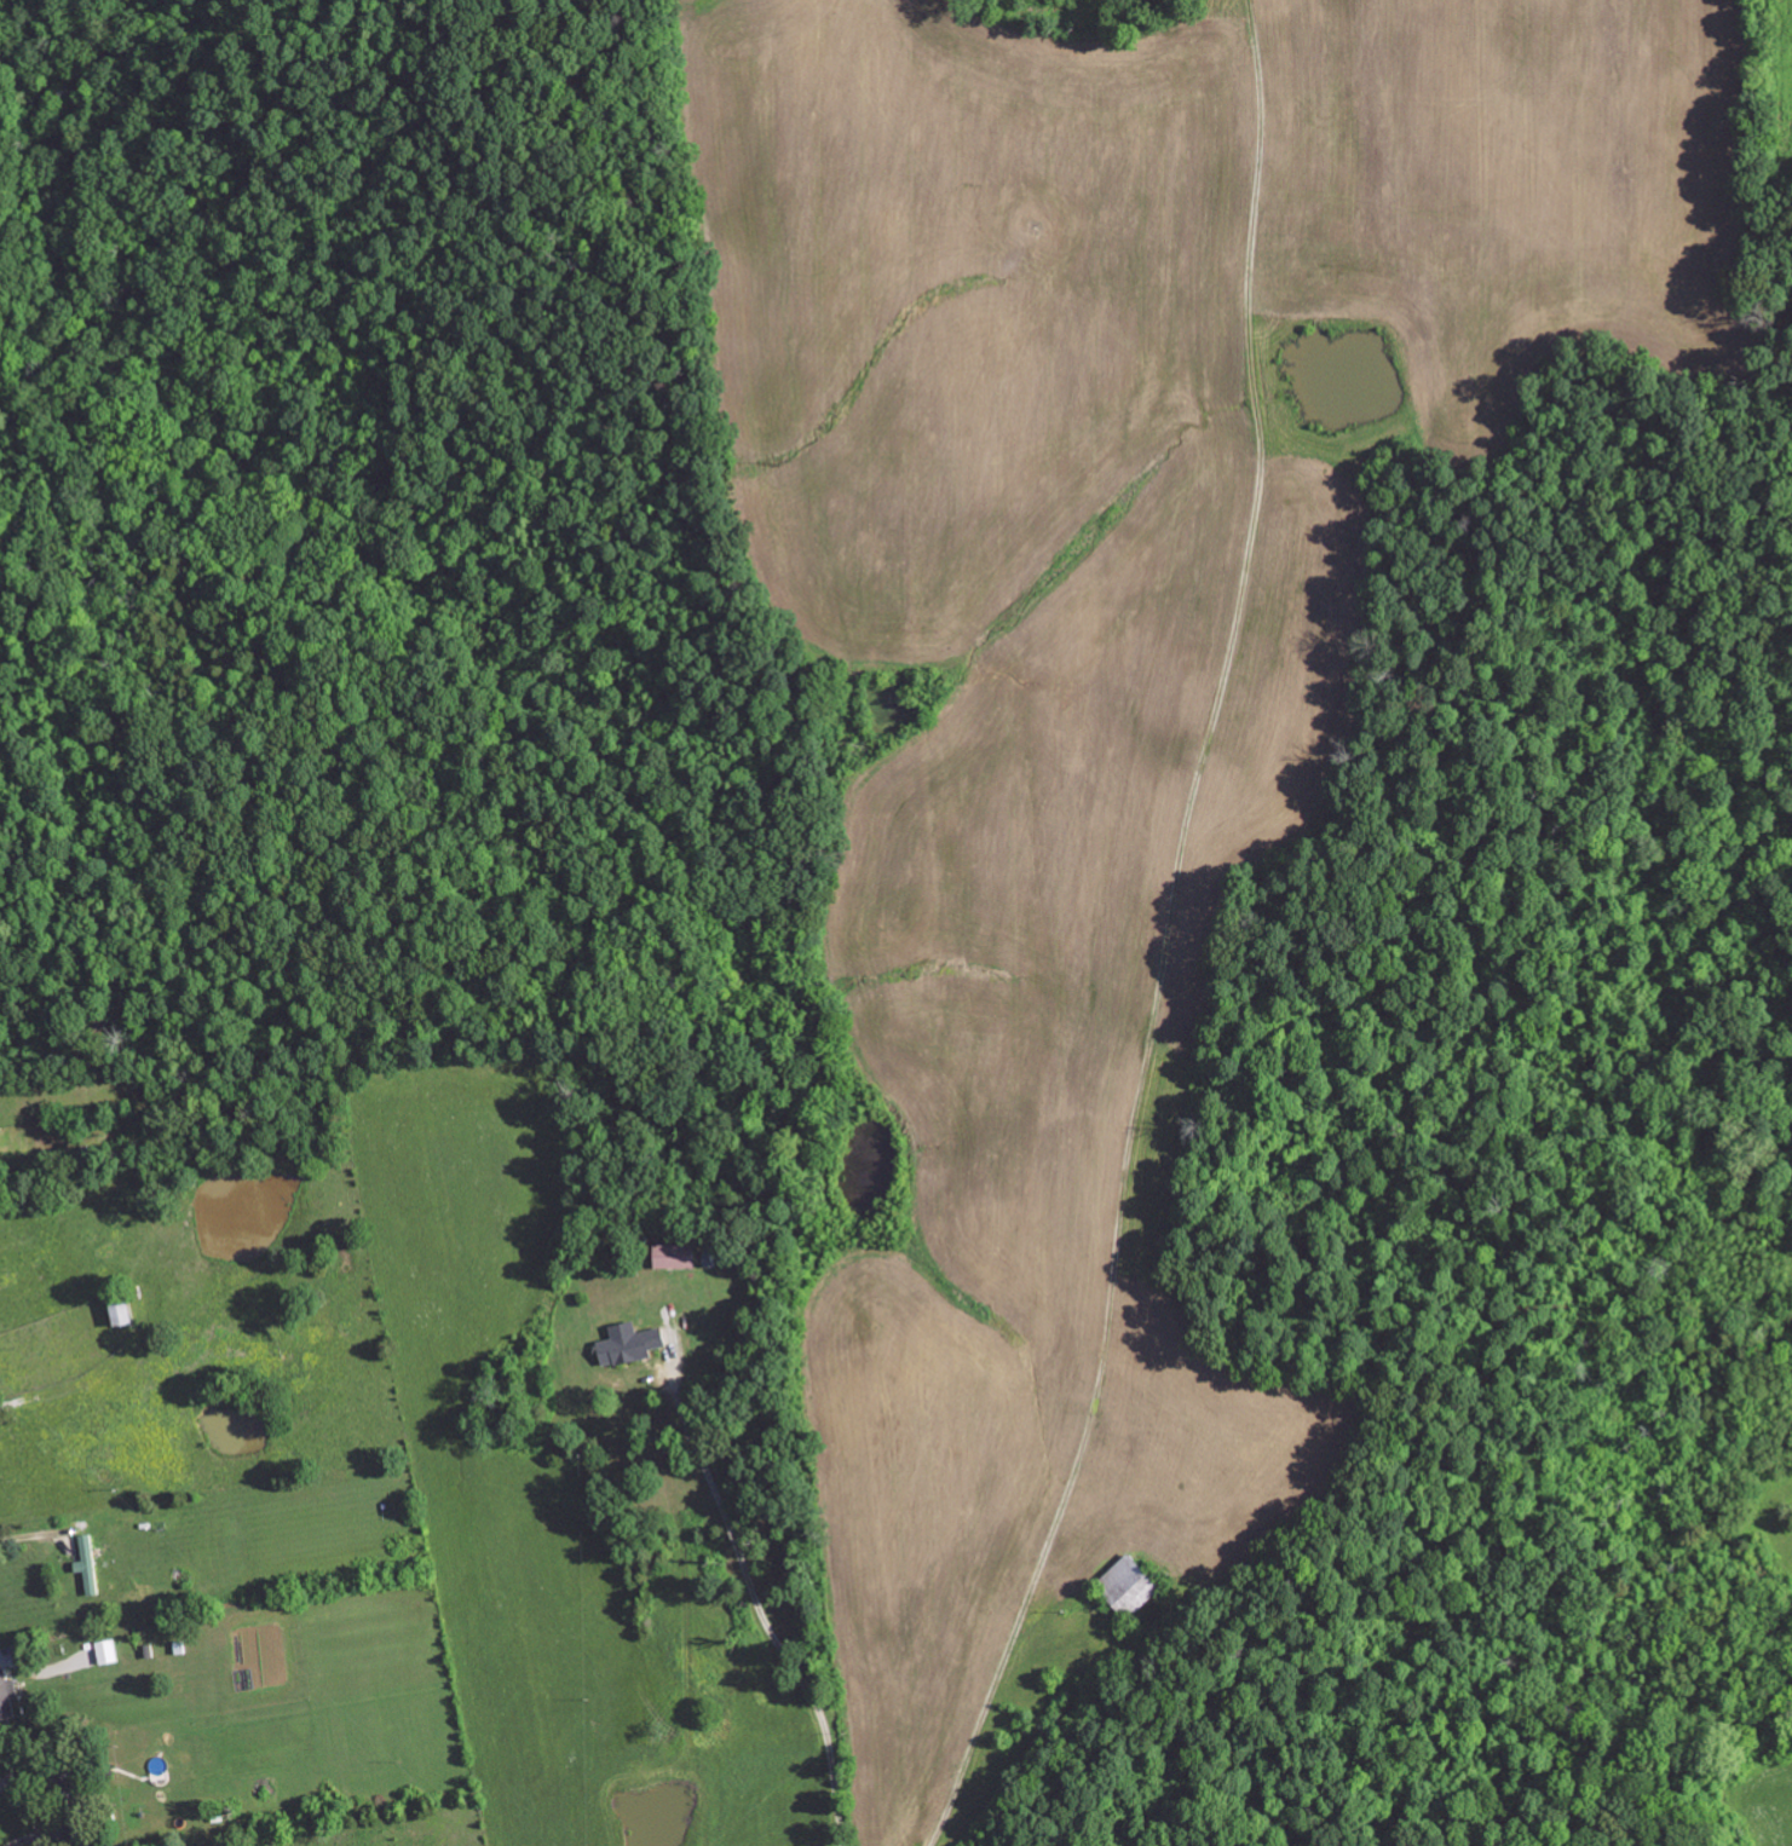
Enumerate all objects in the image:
building: (680, 1253)
building: (713, 1257)
building: (634, 1343)
building: (91, 1562)
building: (1133, 1583)
road: (765, 1616)
building: (7, 1696)

